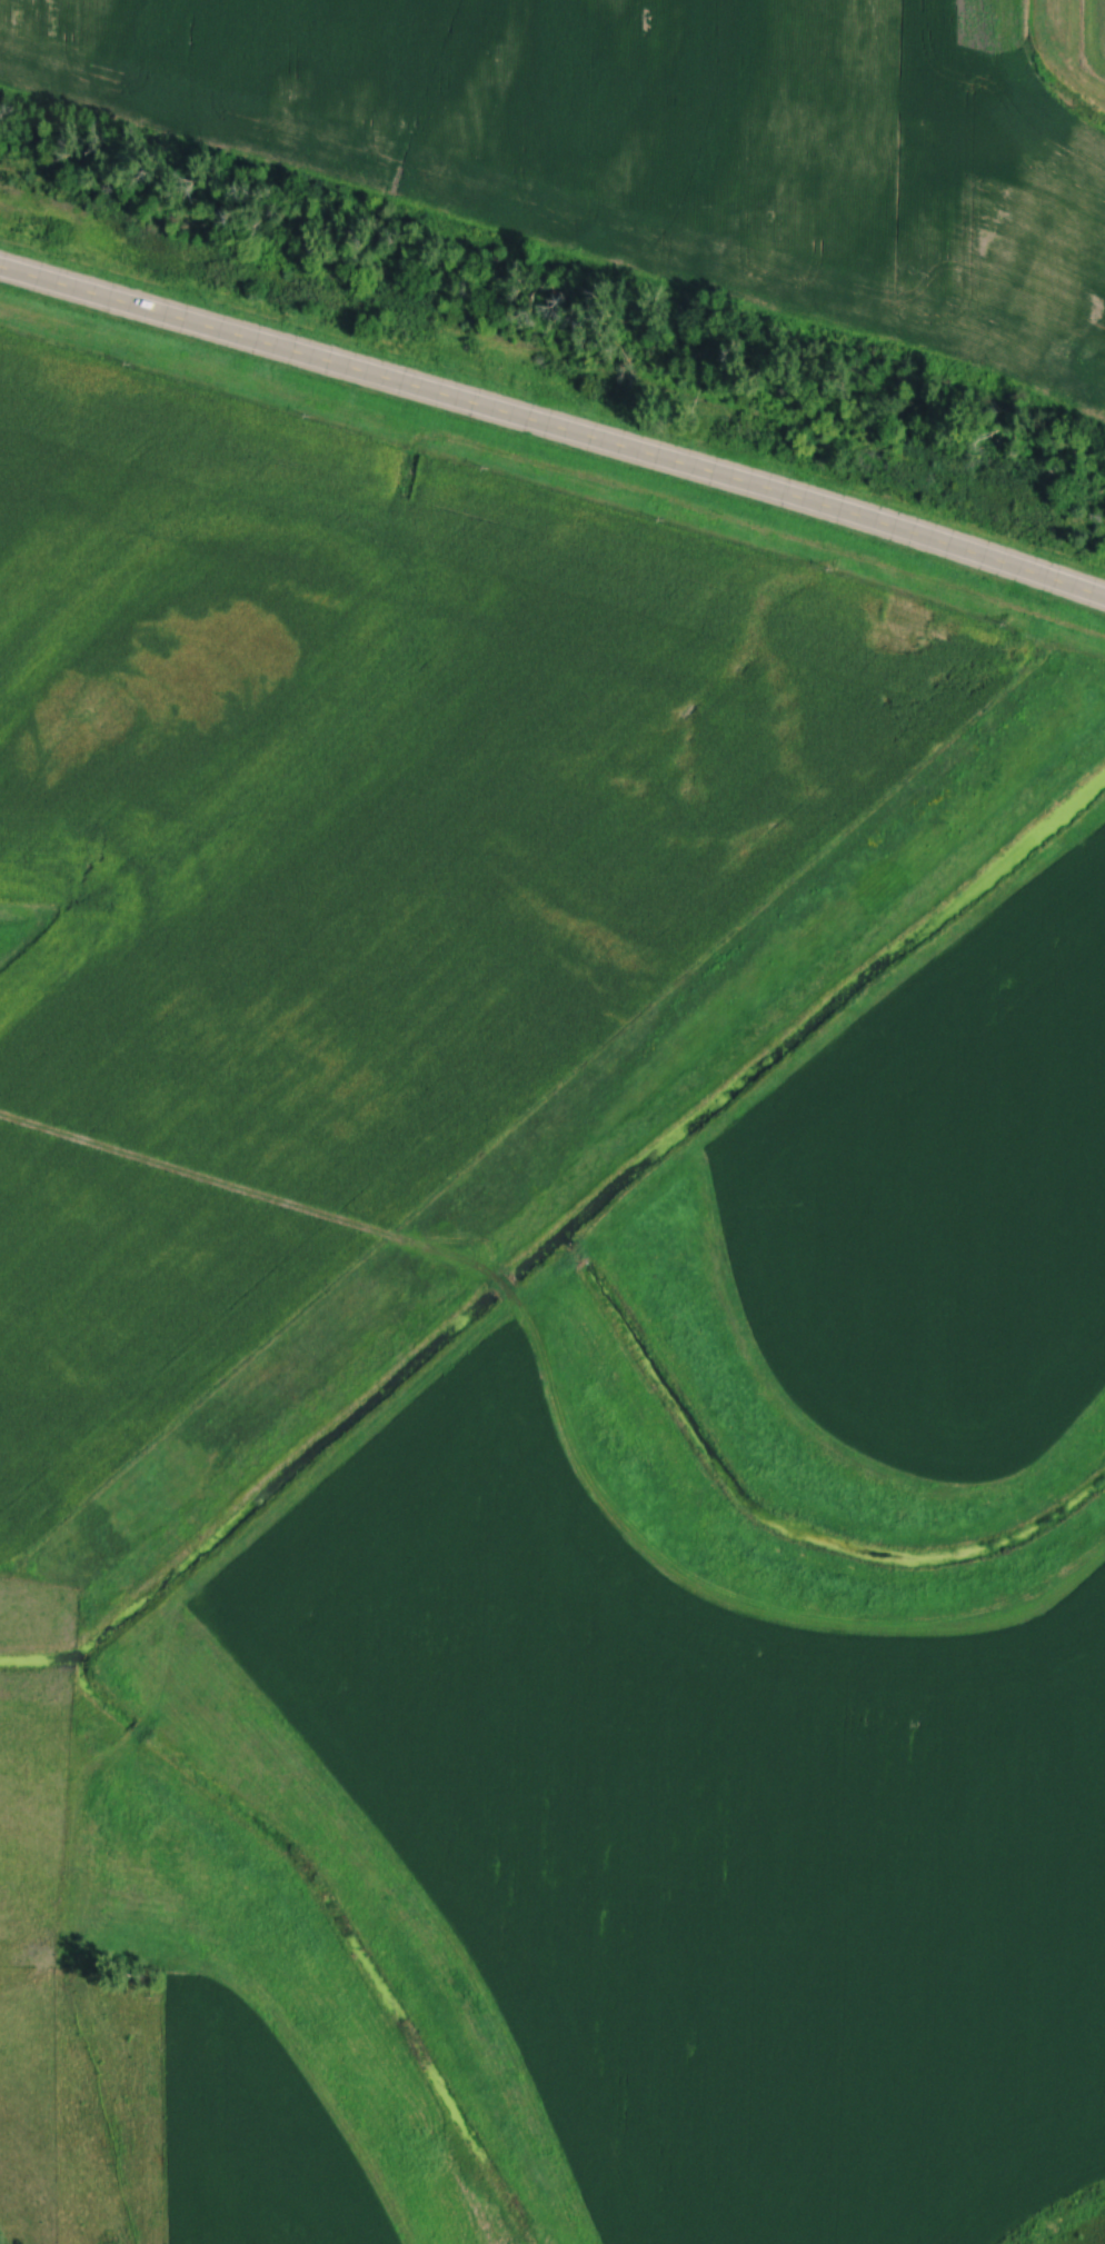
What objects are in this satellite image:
road: (554, 423)

